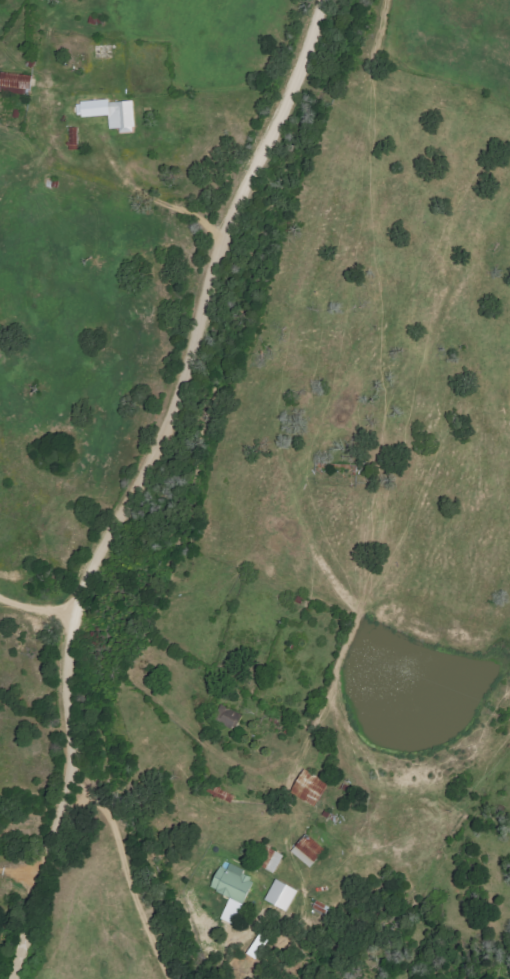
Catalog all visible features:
road: (453, 40)
building: (116, 113)
road: (137, 483)
building: (232, 717)
building: (314, 789)
building: (313, 851)
building: (274, 860)
building: (236, 891)
building: (286, 895)

